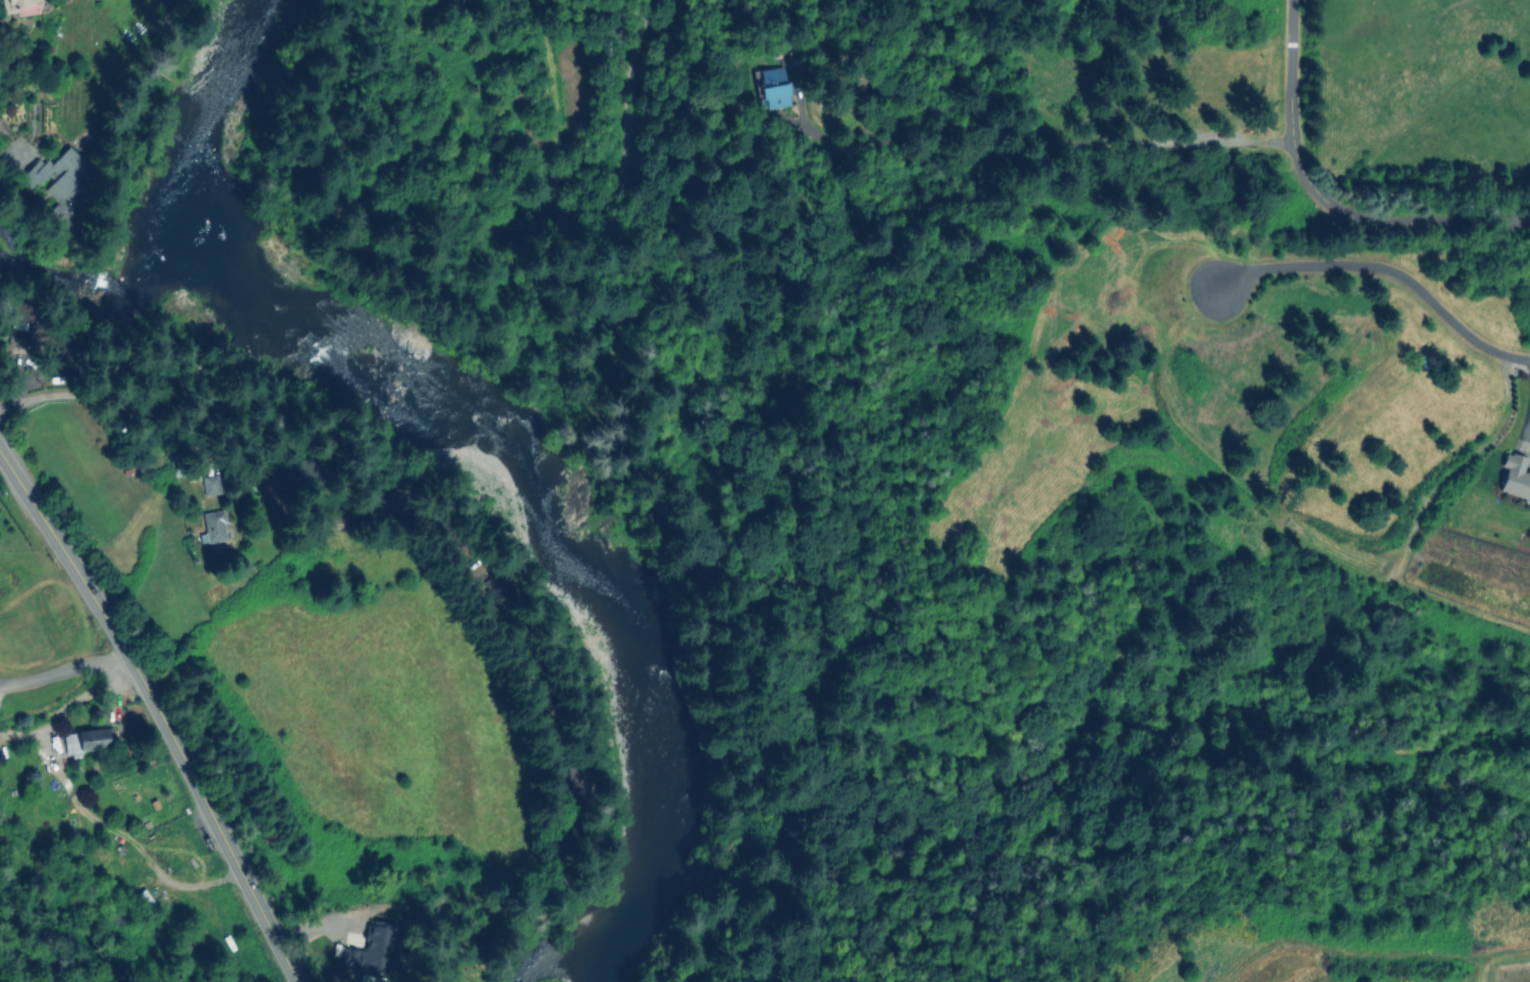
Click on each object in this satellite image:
building: (771, 86)
road: (1286, 96)
road: (1193, 144)
building: (63, 180)
road: (1413, 222)
road: (1386, 271)
building: (26, 327)
building: (57, 348)
road: (57, 394)
river: (489, 422)
road: (2, 455)
building: (288, 473)
building: (1513, 476)
building: (210, 484)
building: (213, 527)
road: (67, 670)
road: (166, 707)
road: (6, 726)
building: (86, 740)
road: (83, 800)
building: (143, 901)
building: (372, 951)

